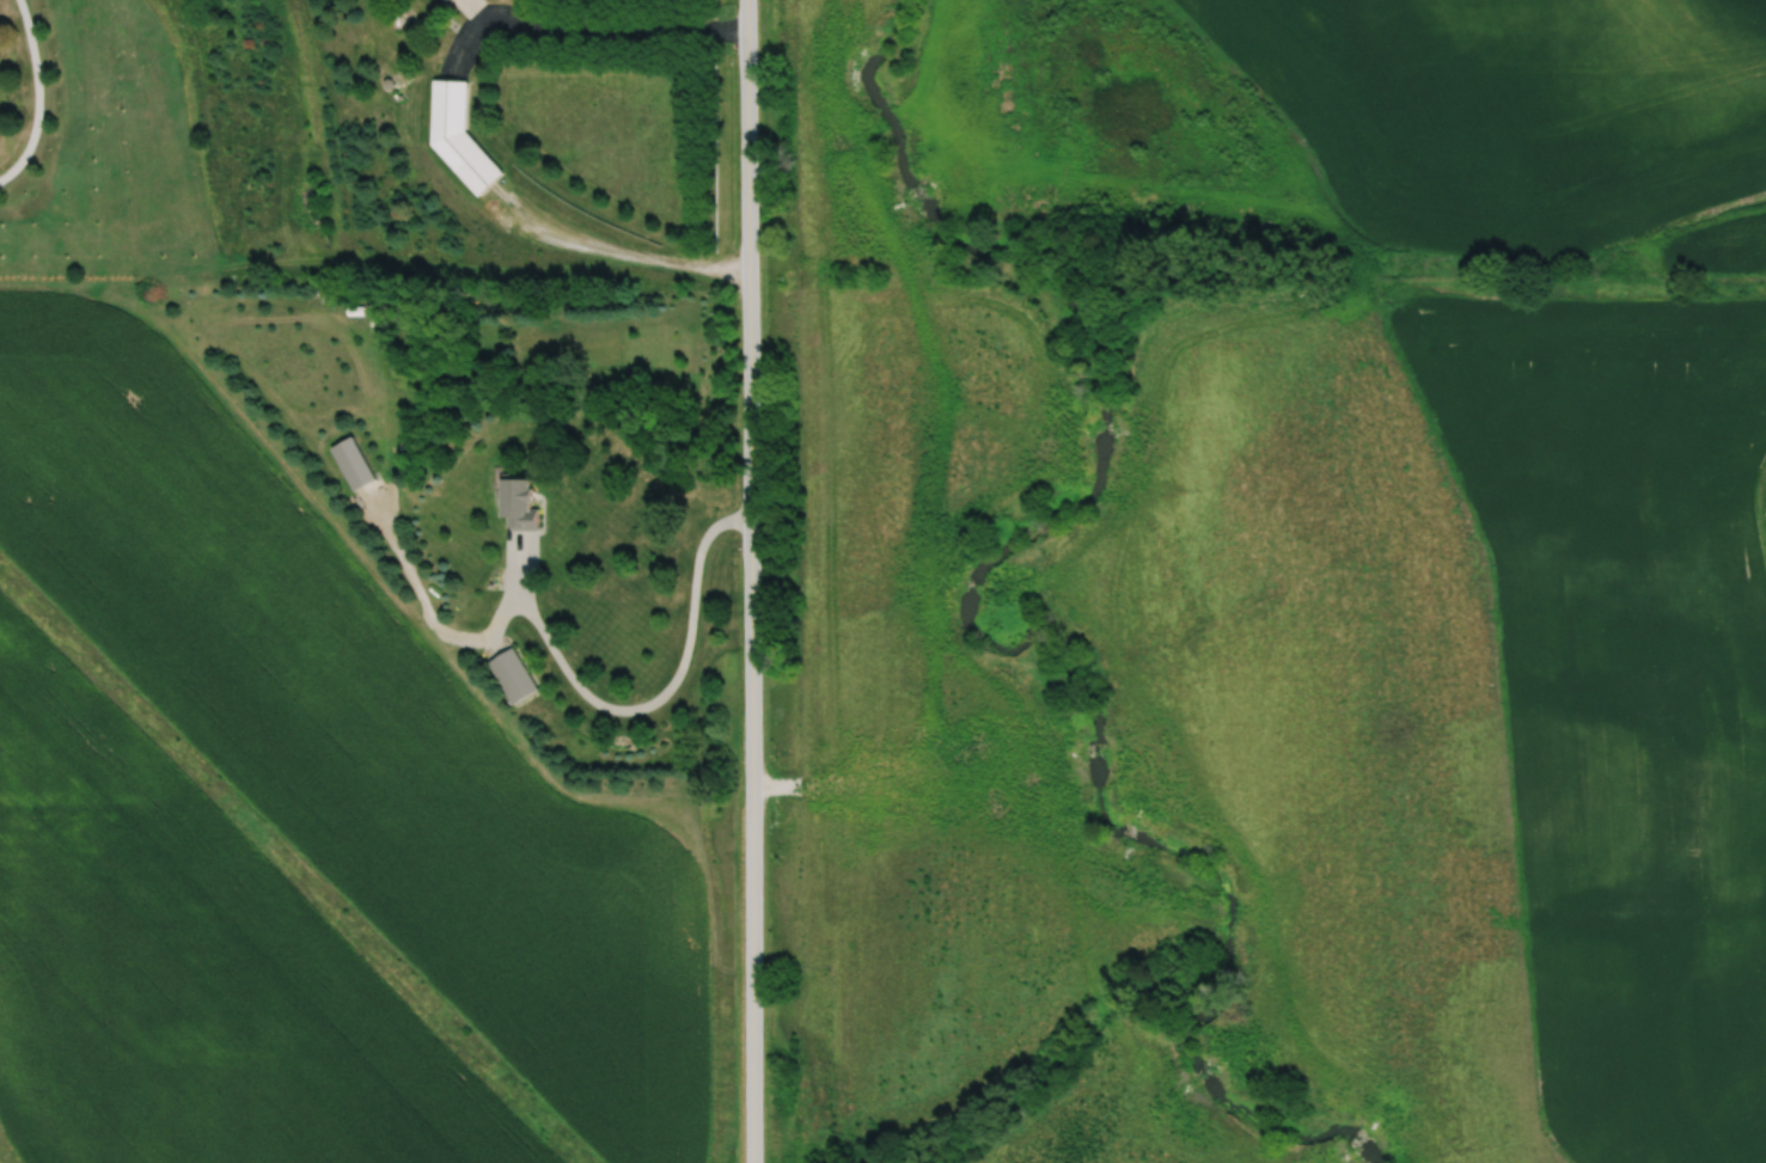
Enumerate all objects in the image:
building: (448, 1)
road: (593, 26)
road: (37, 92)
building: (458, 136)
road: (617, 253)
building: (354, 464)
building: (520, 503)
road: (515, 574)
road: (750, 581)
park: (1124, 628)
road: (569, 674)
building: (513, 675)

